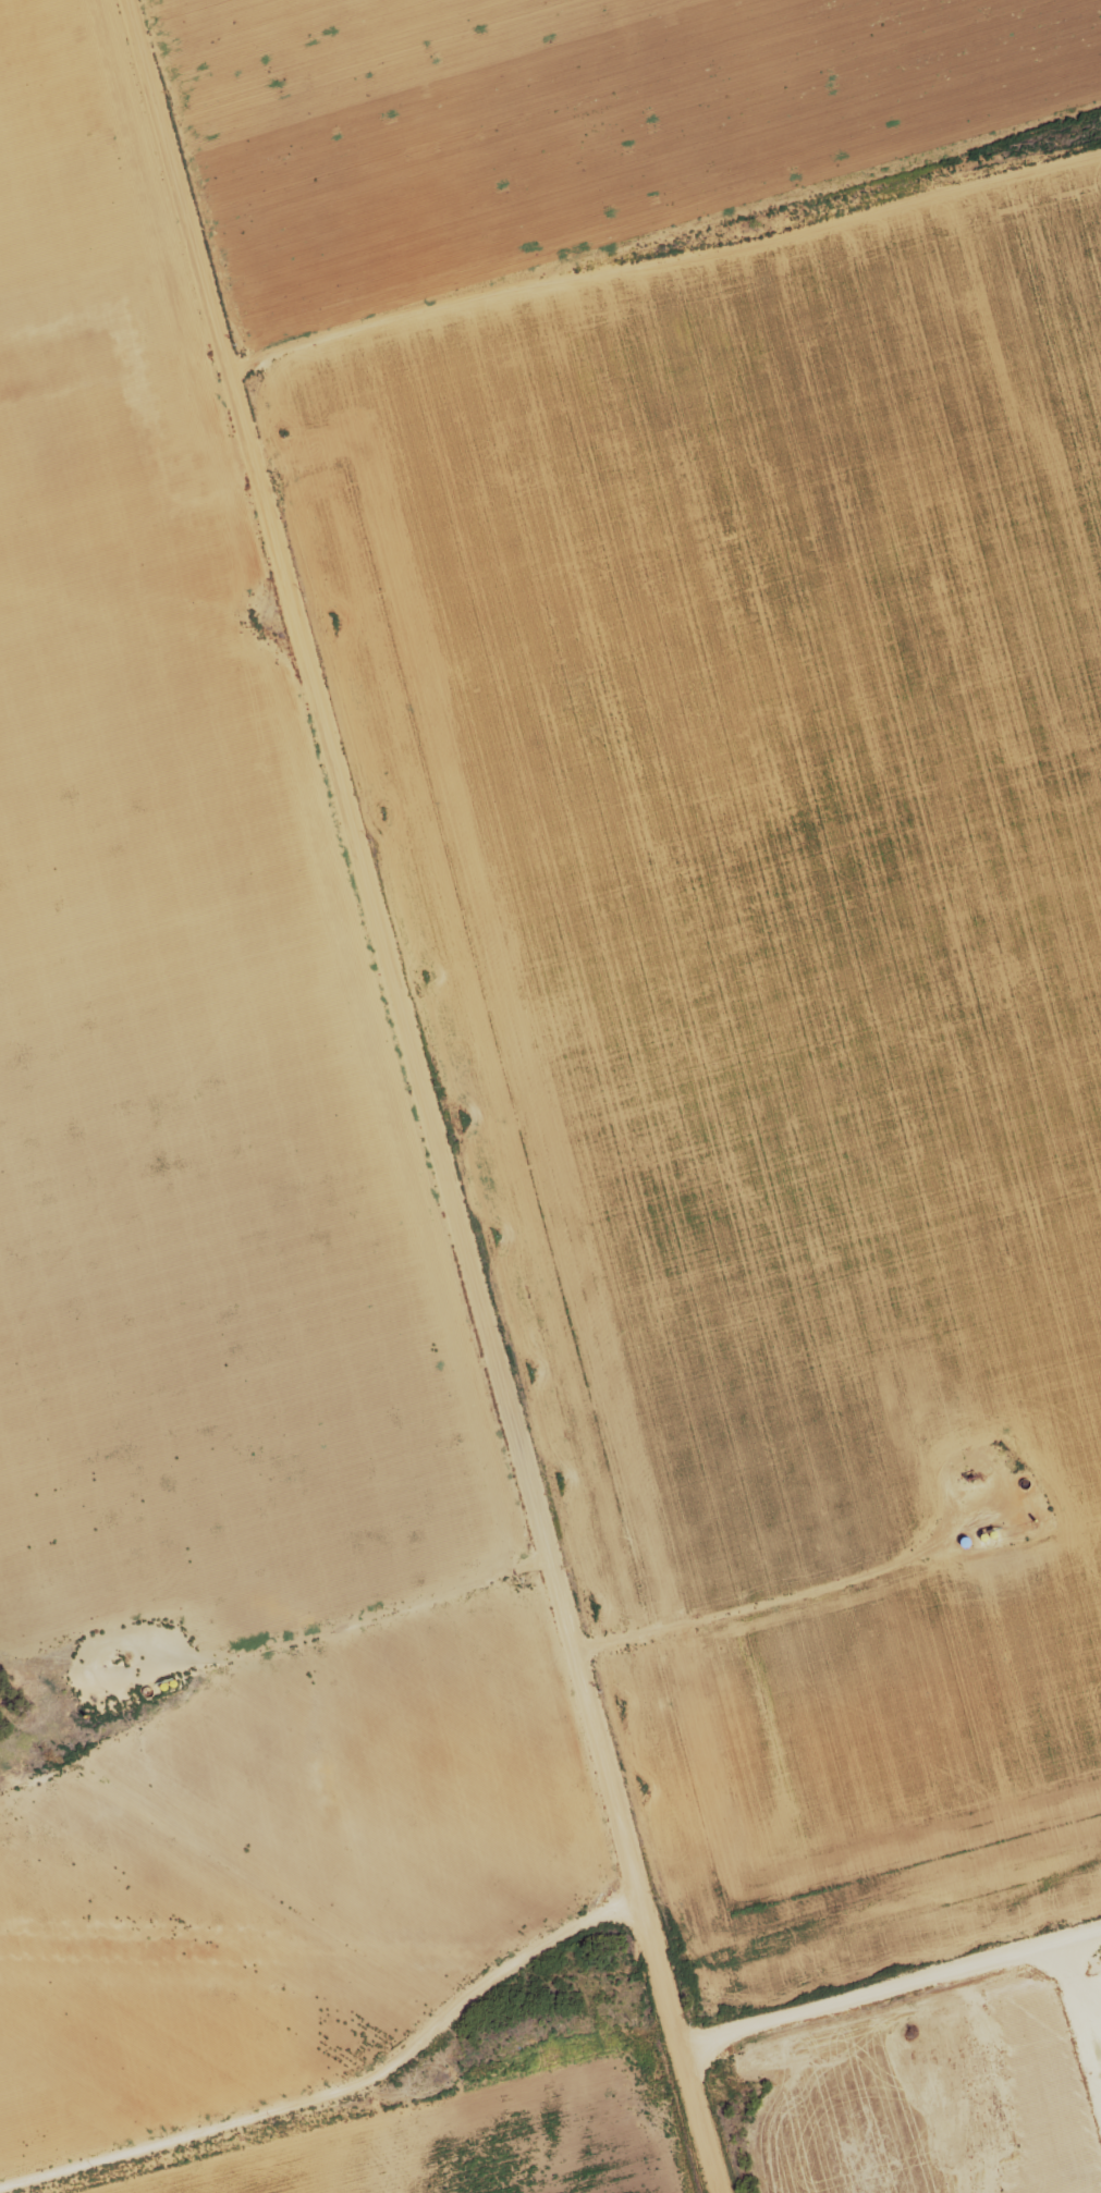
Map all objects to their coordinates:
road: (661, 261)
road: (403, 1092)
road: (341, 2088)

